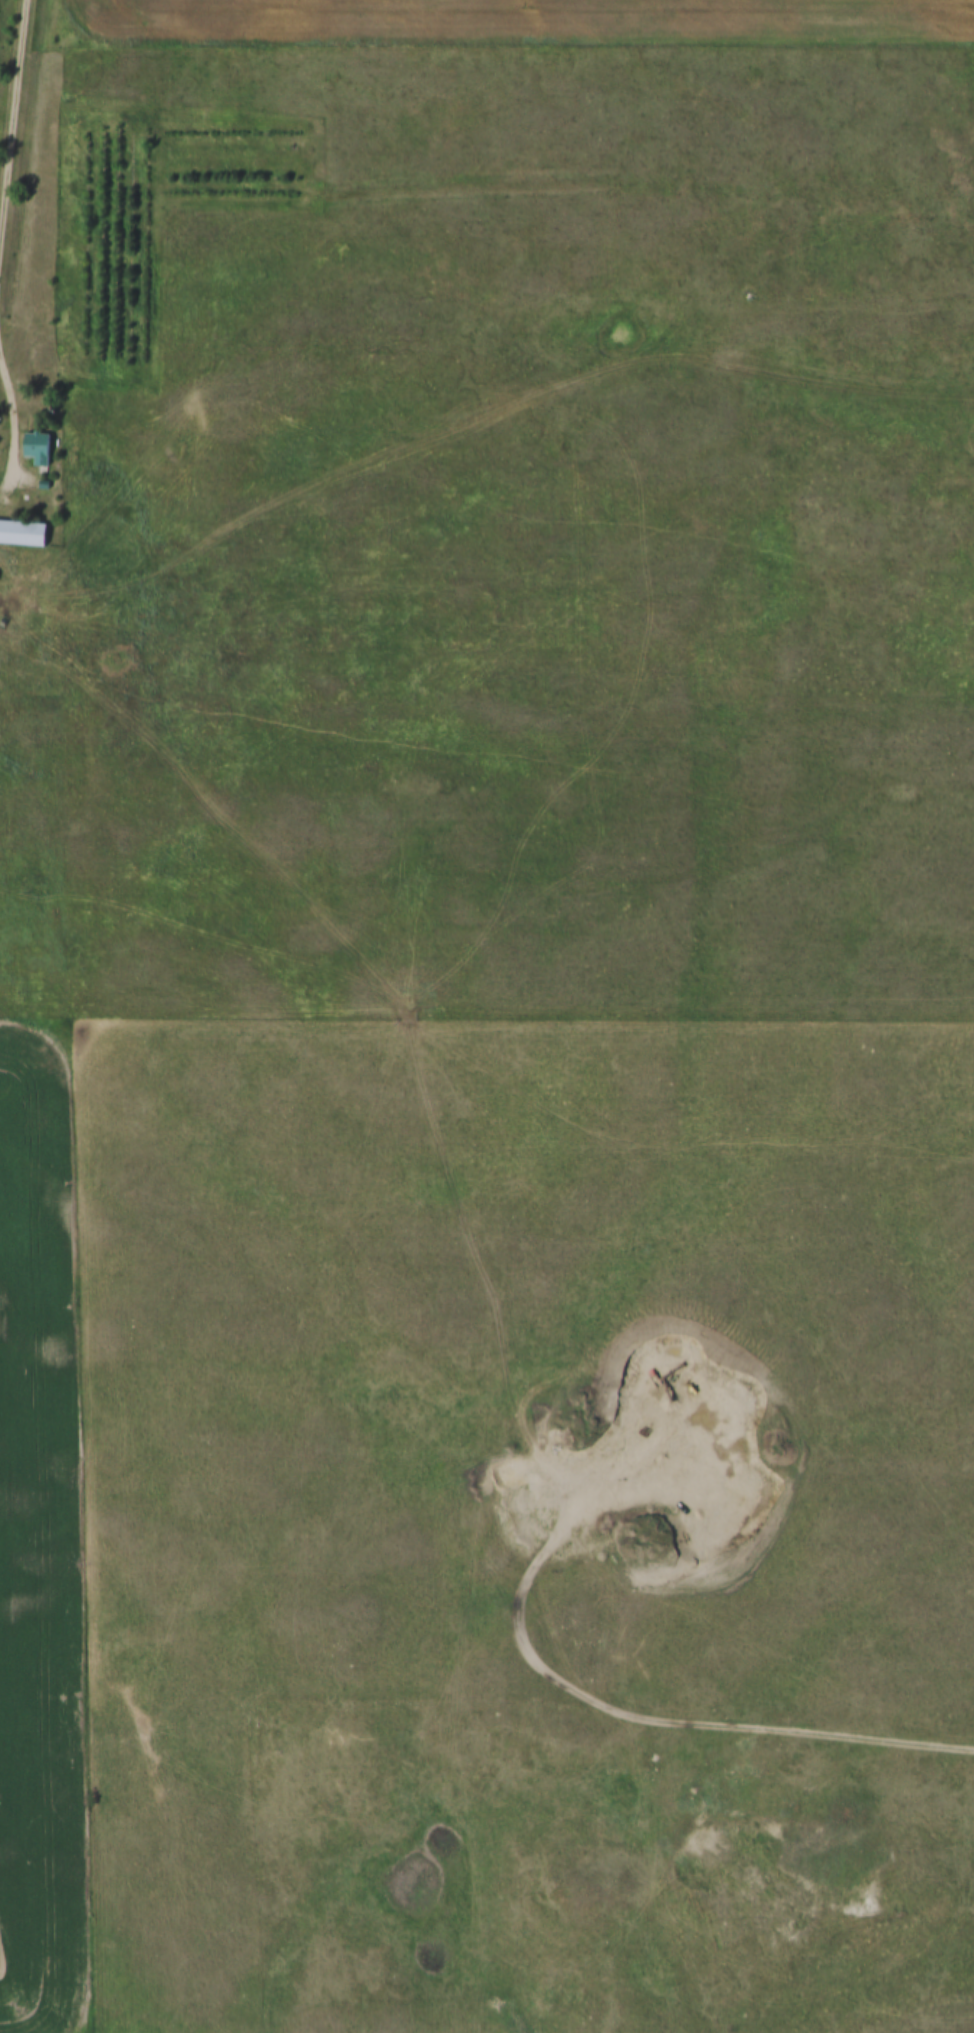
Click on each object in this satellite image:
road: (15, 140)
road: (14, 420)
building: (37, 446)
building: (48, 483)
building: (22, 532)
quarry: (628, 1472)
road: (636, 1718)

